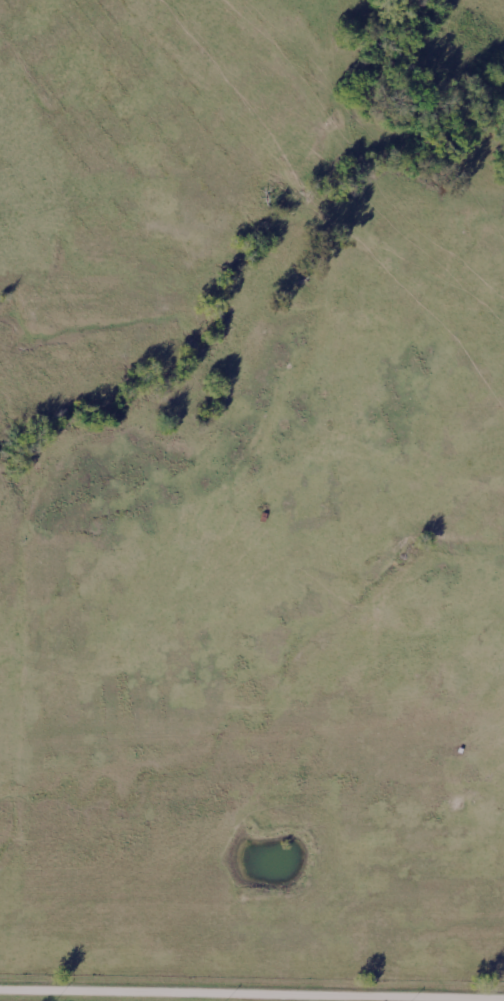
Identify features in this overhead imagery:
road: (252, 987)

